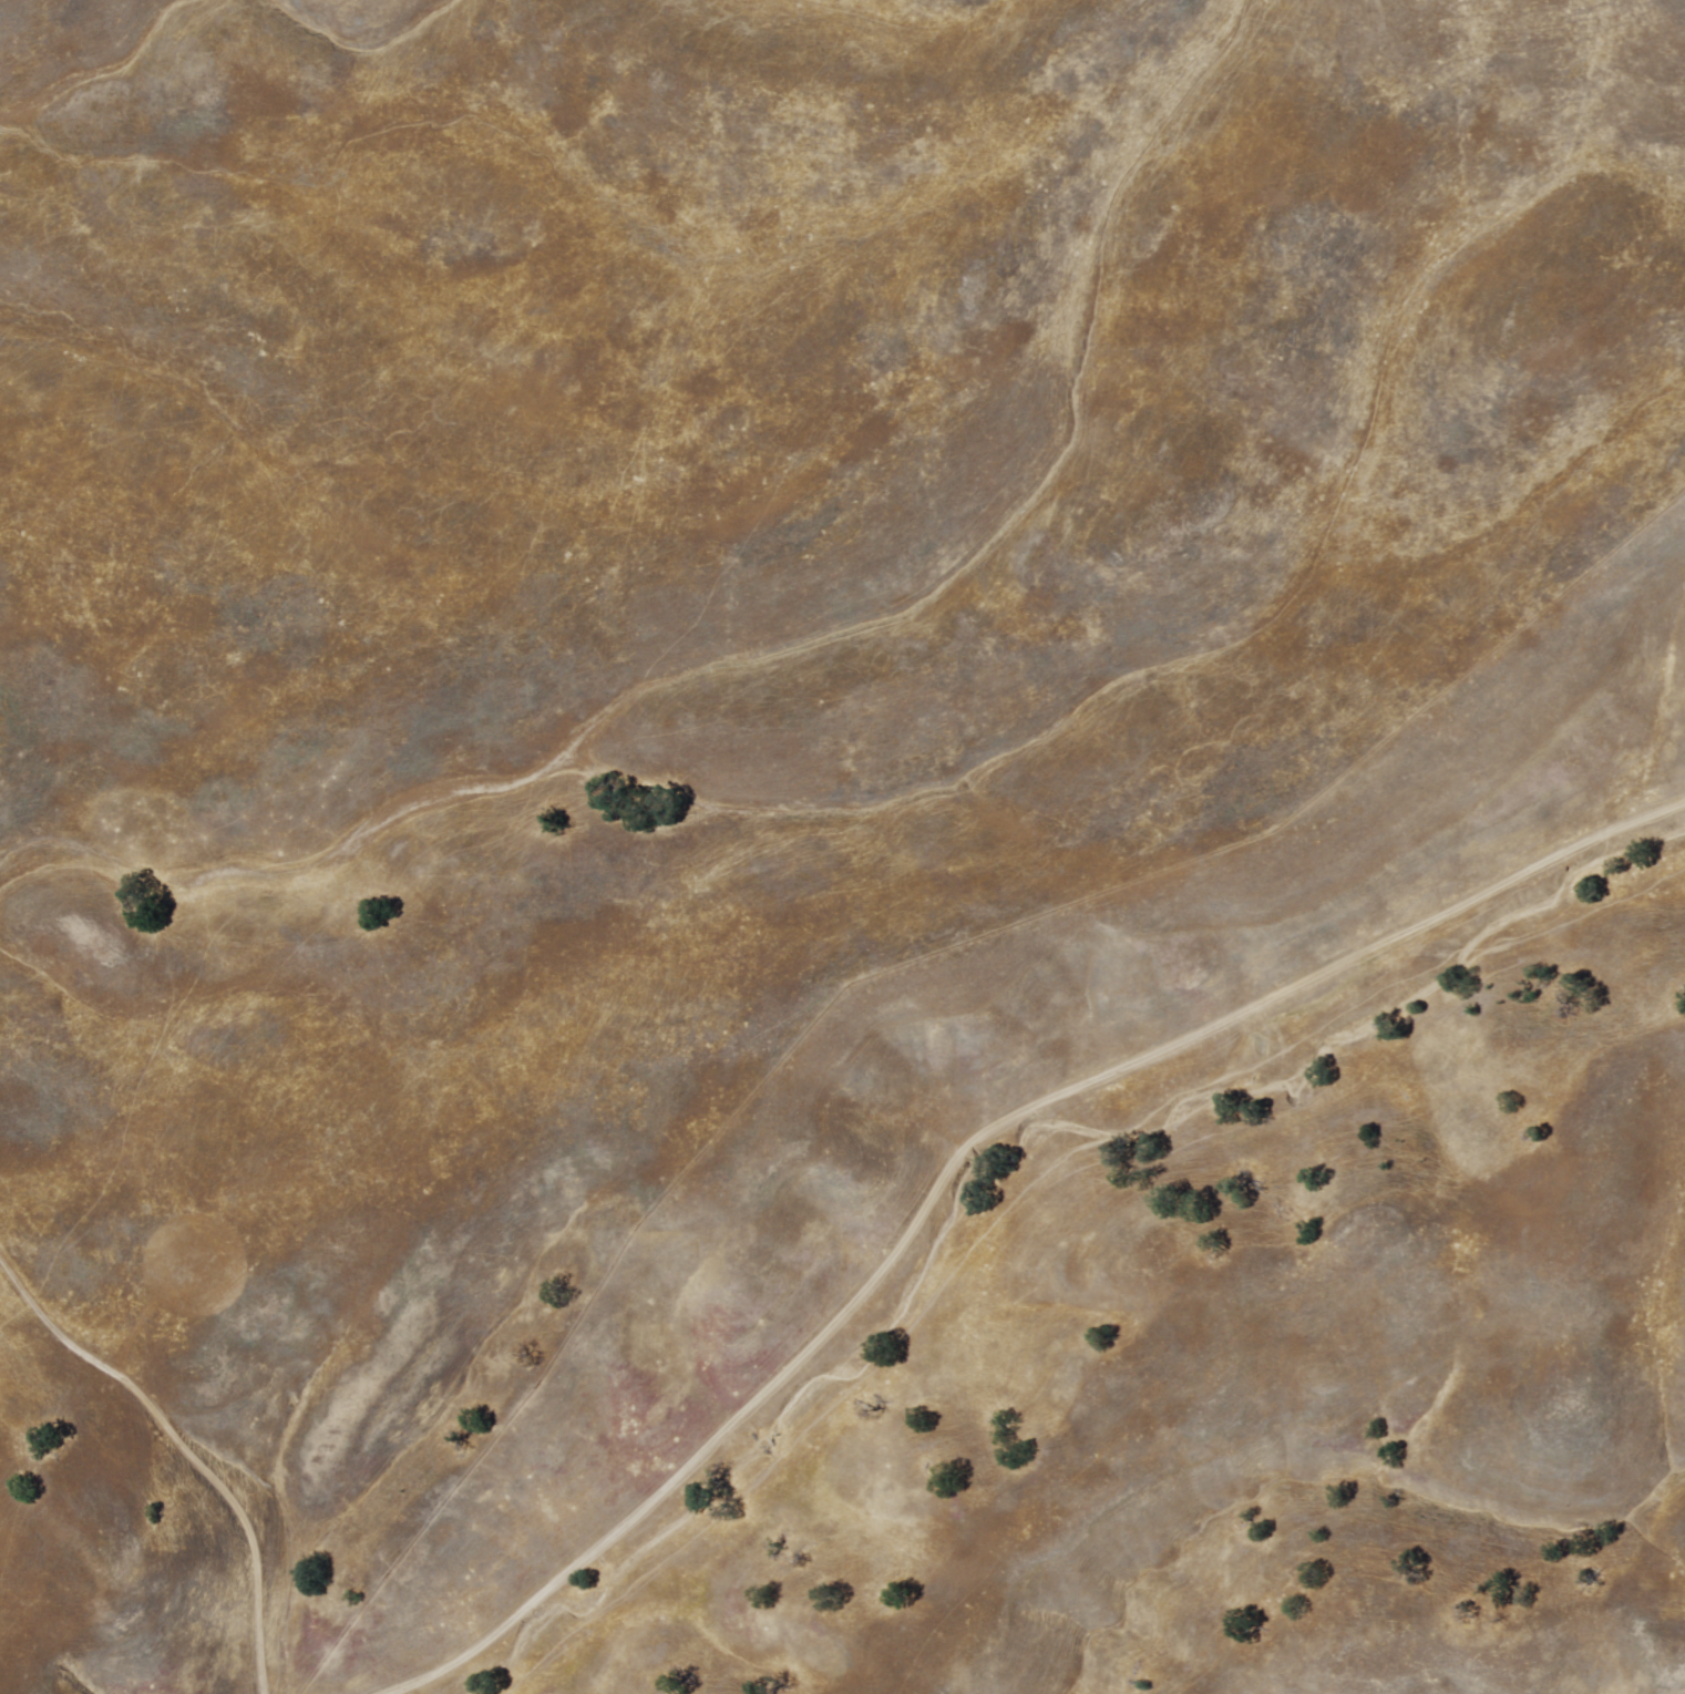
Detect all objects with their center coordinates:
road: (965, 1149)
road: (186, 1446)

